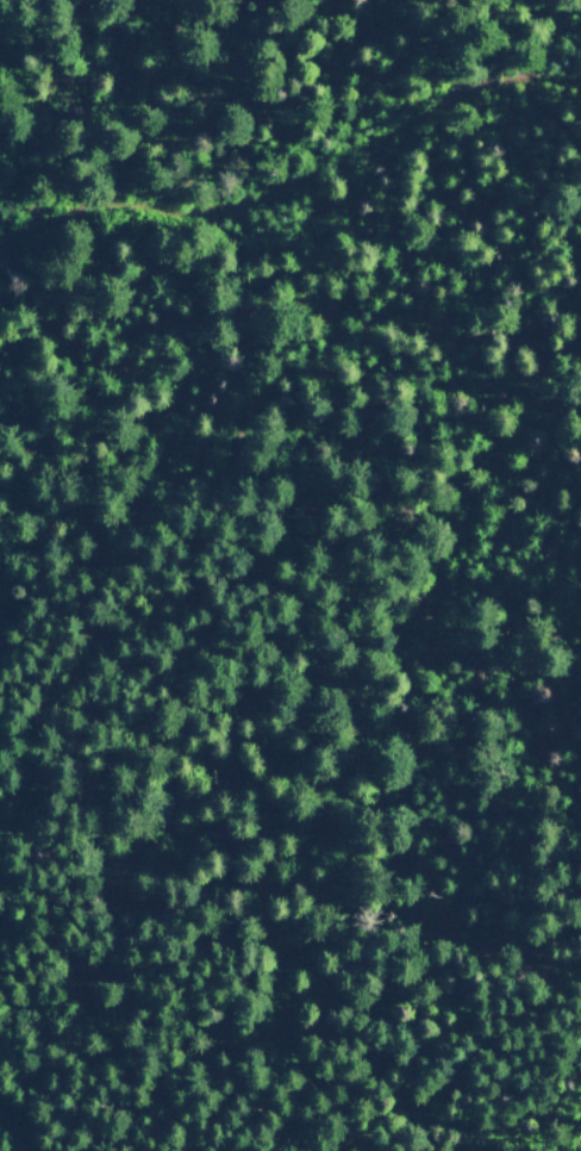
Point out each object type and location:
road: (294, 169)
road: (15, 1133)

